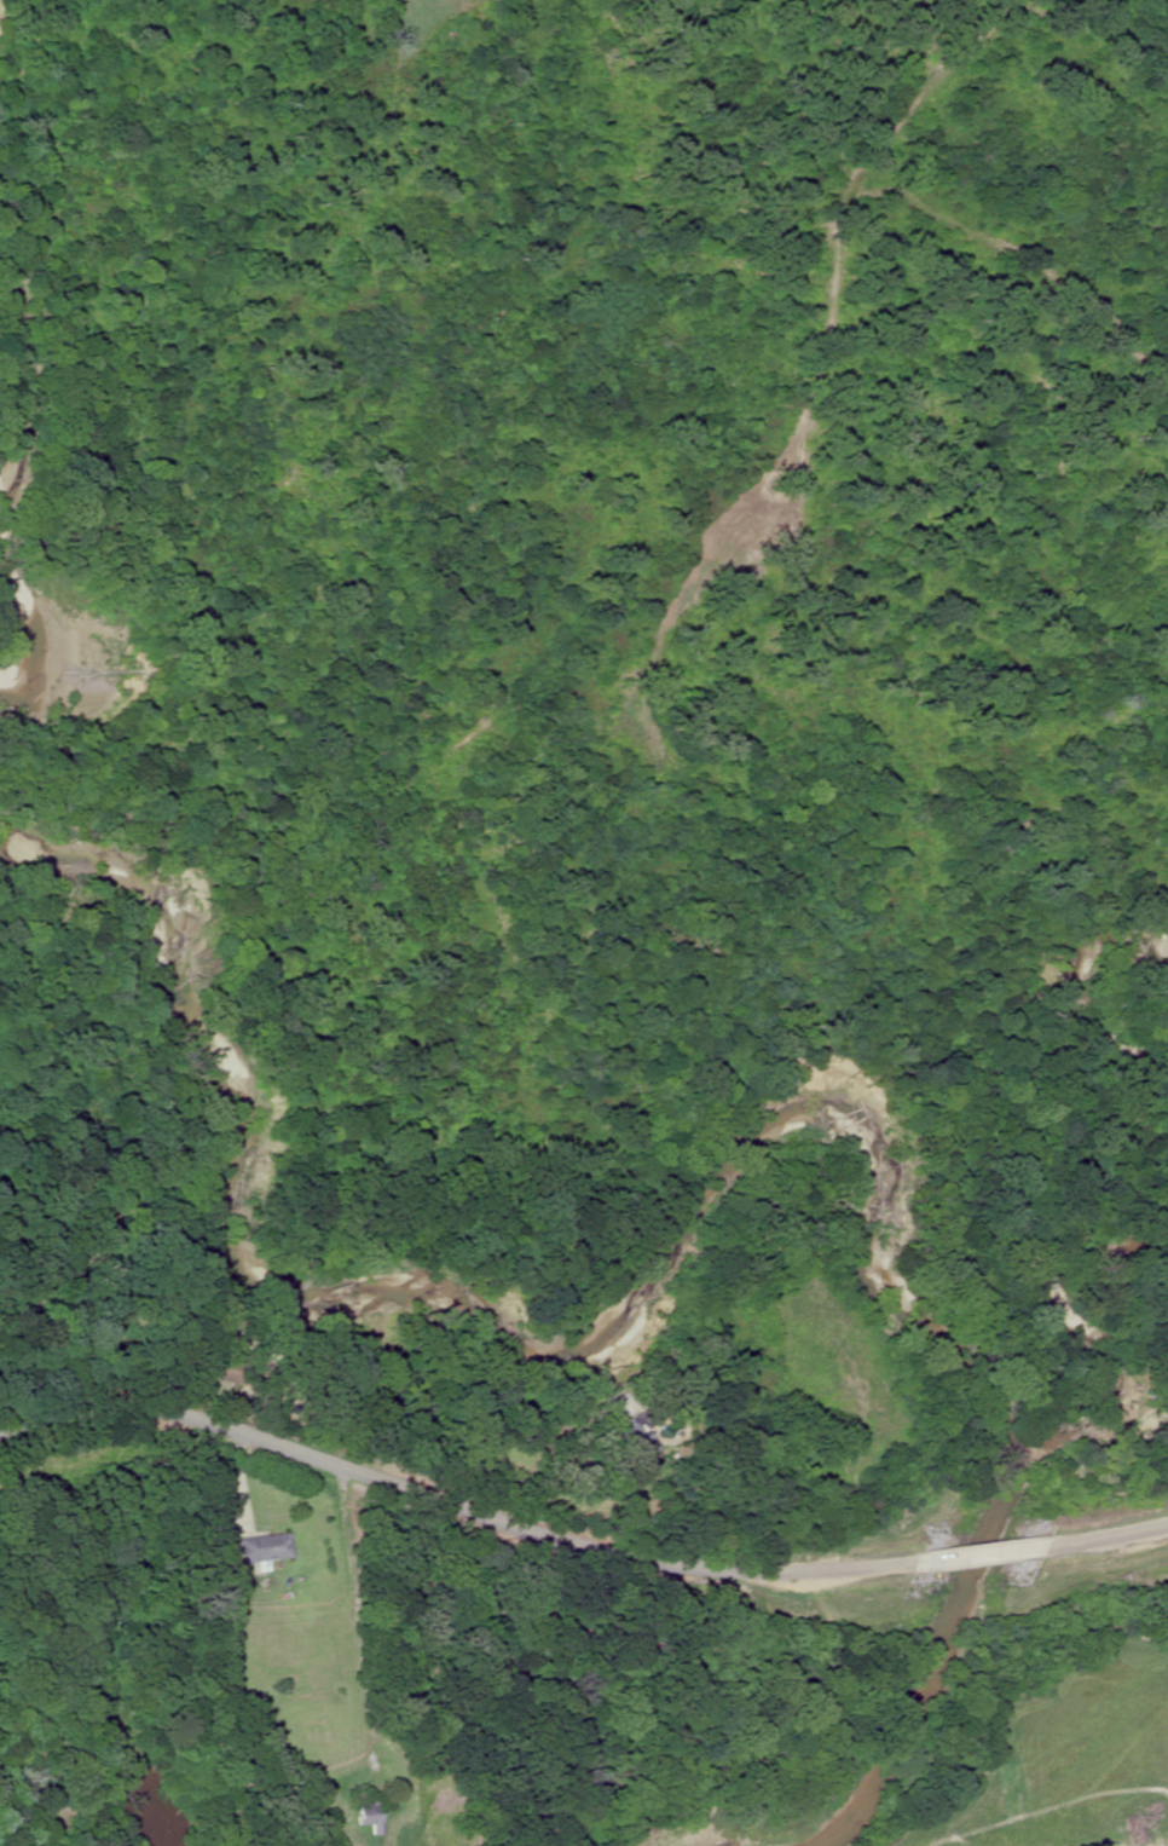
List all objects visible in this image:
building: (219, 1371)
building: (1137, 1432)
building: (623, 1444)
road: (574, 1524)
building: (259, 1548)
building: (360, 1817)

